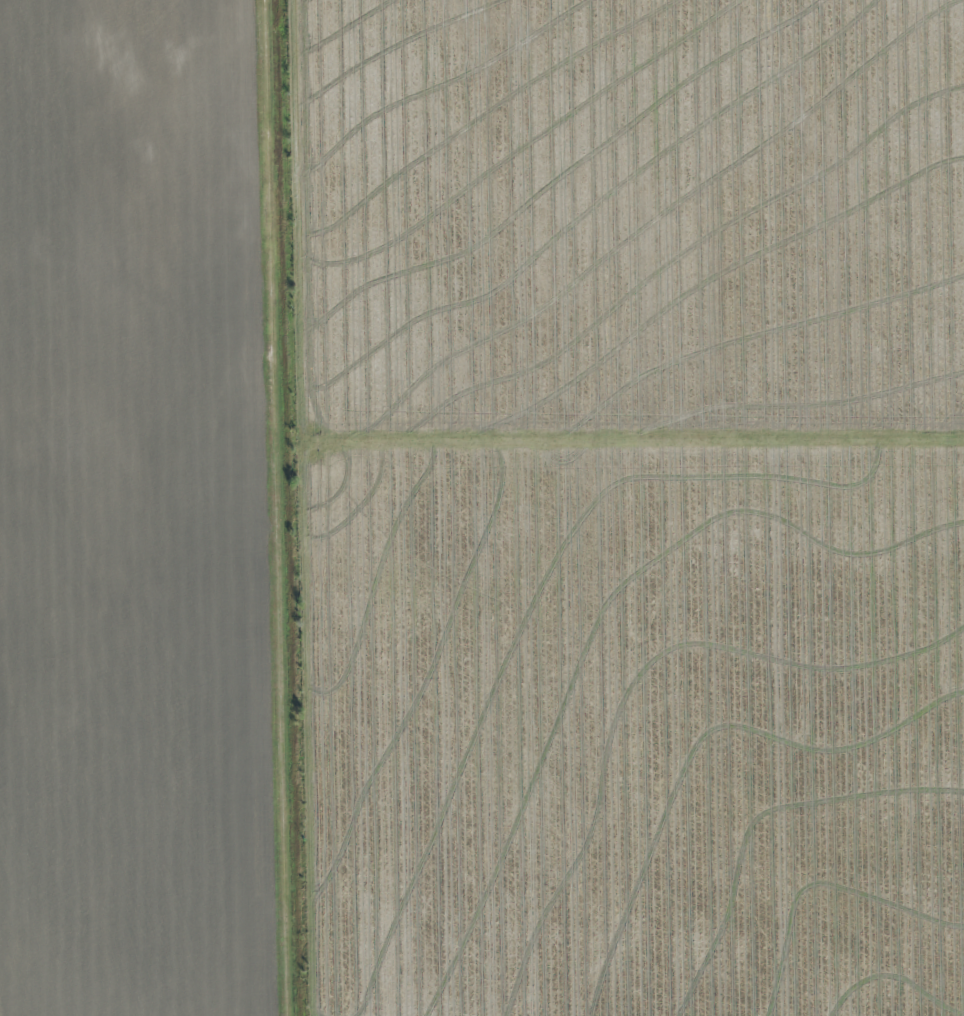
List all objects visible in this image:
road: (286, 508)

